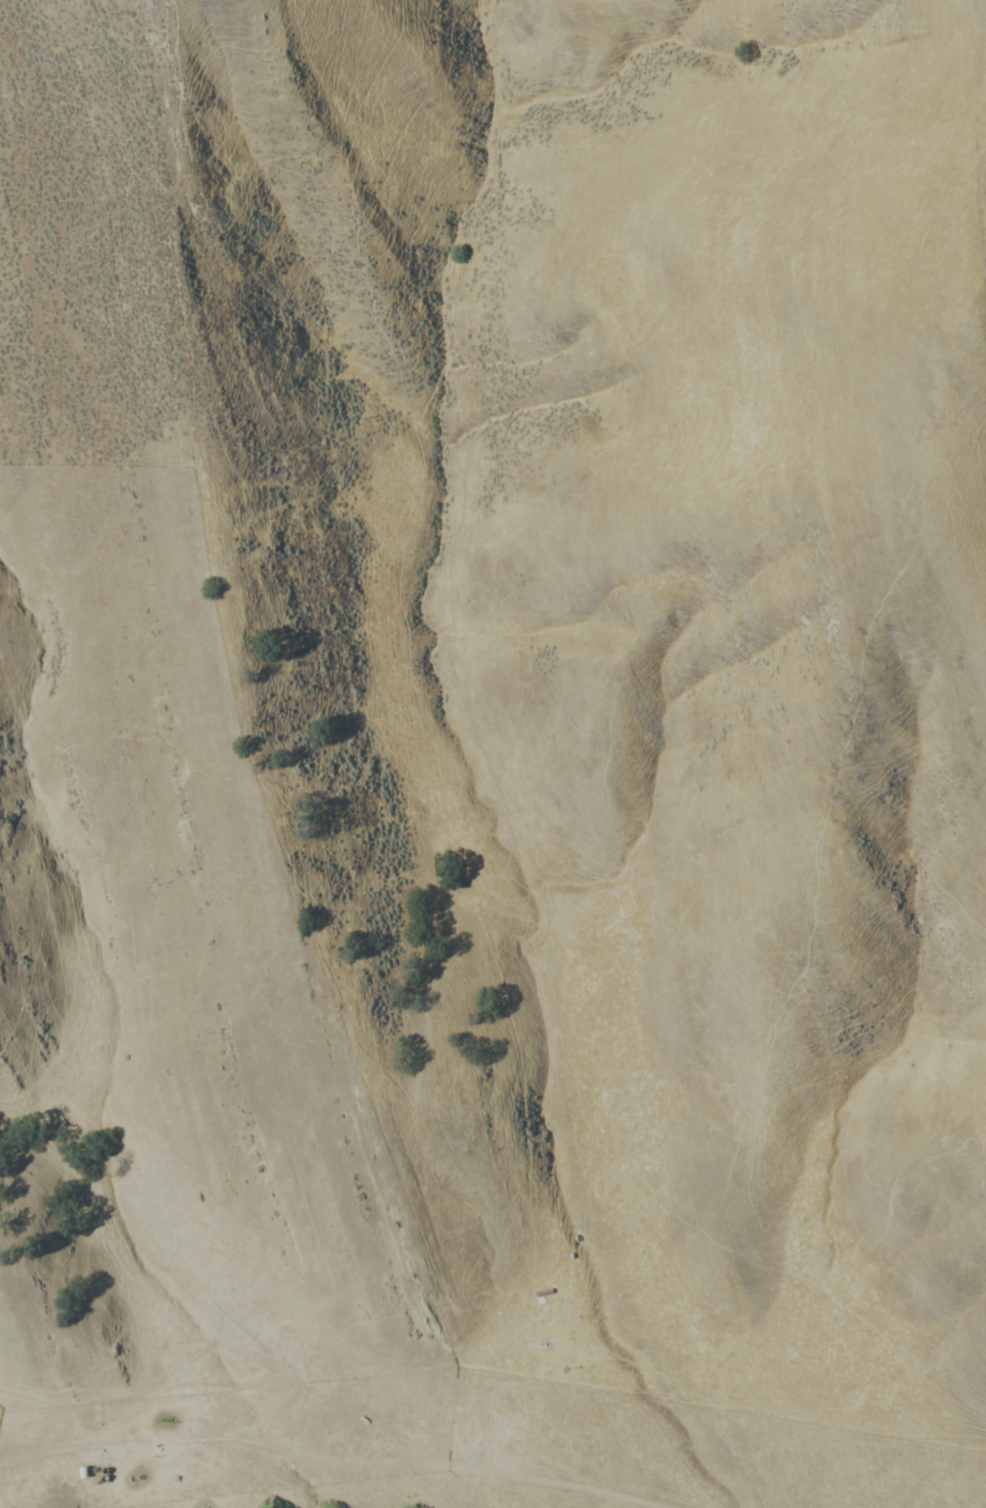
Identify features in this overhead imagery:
road: (492, 1216)

